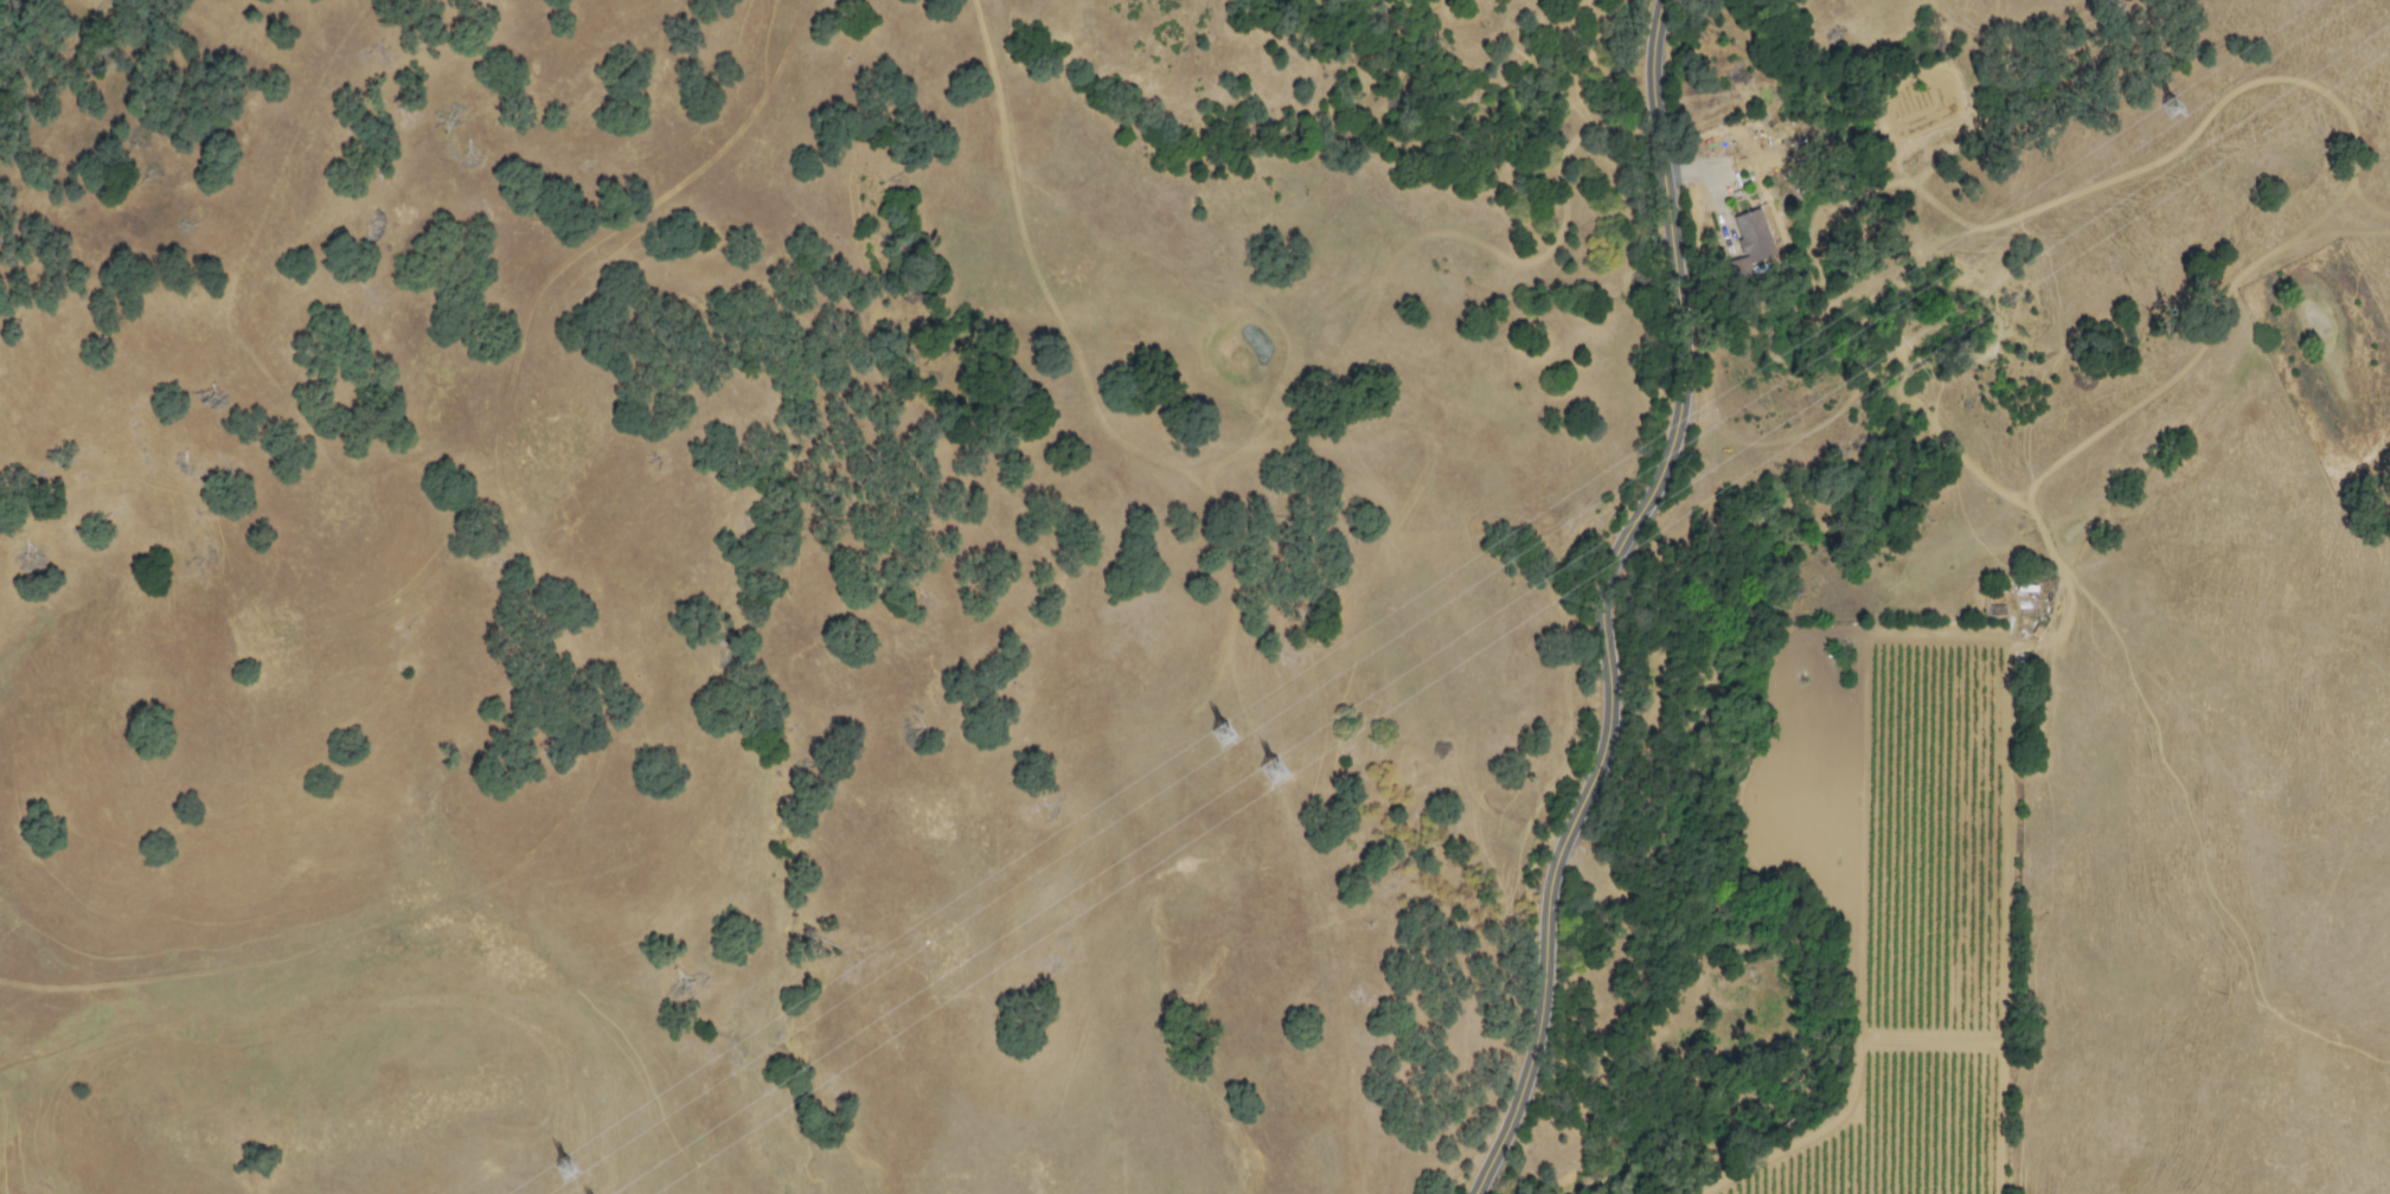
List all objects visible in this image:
power tower: (2173, 99)
road: (1616, 597)
road: (1813, 635)
power tower: (1220, 726)
power tower: (1269, 762)
power tower: (565, 1158)

